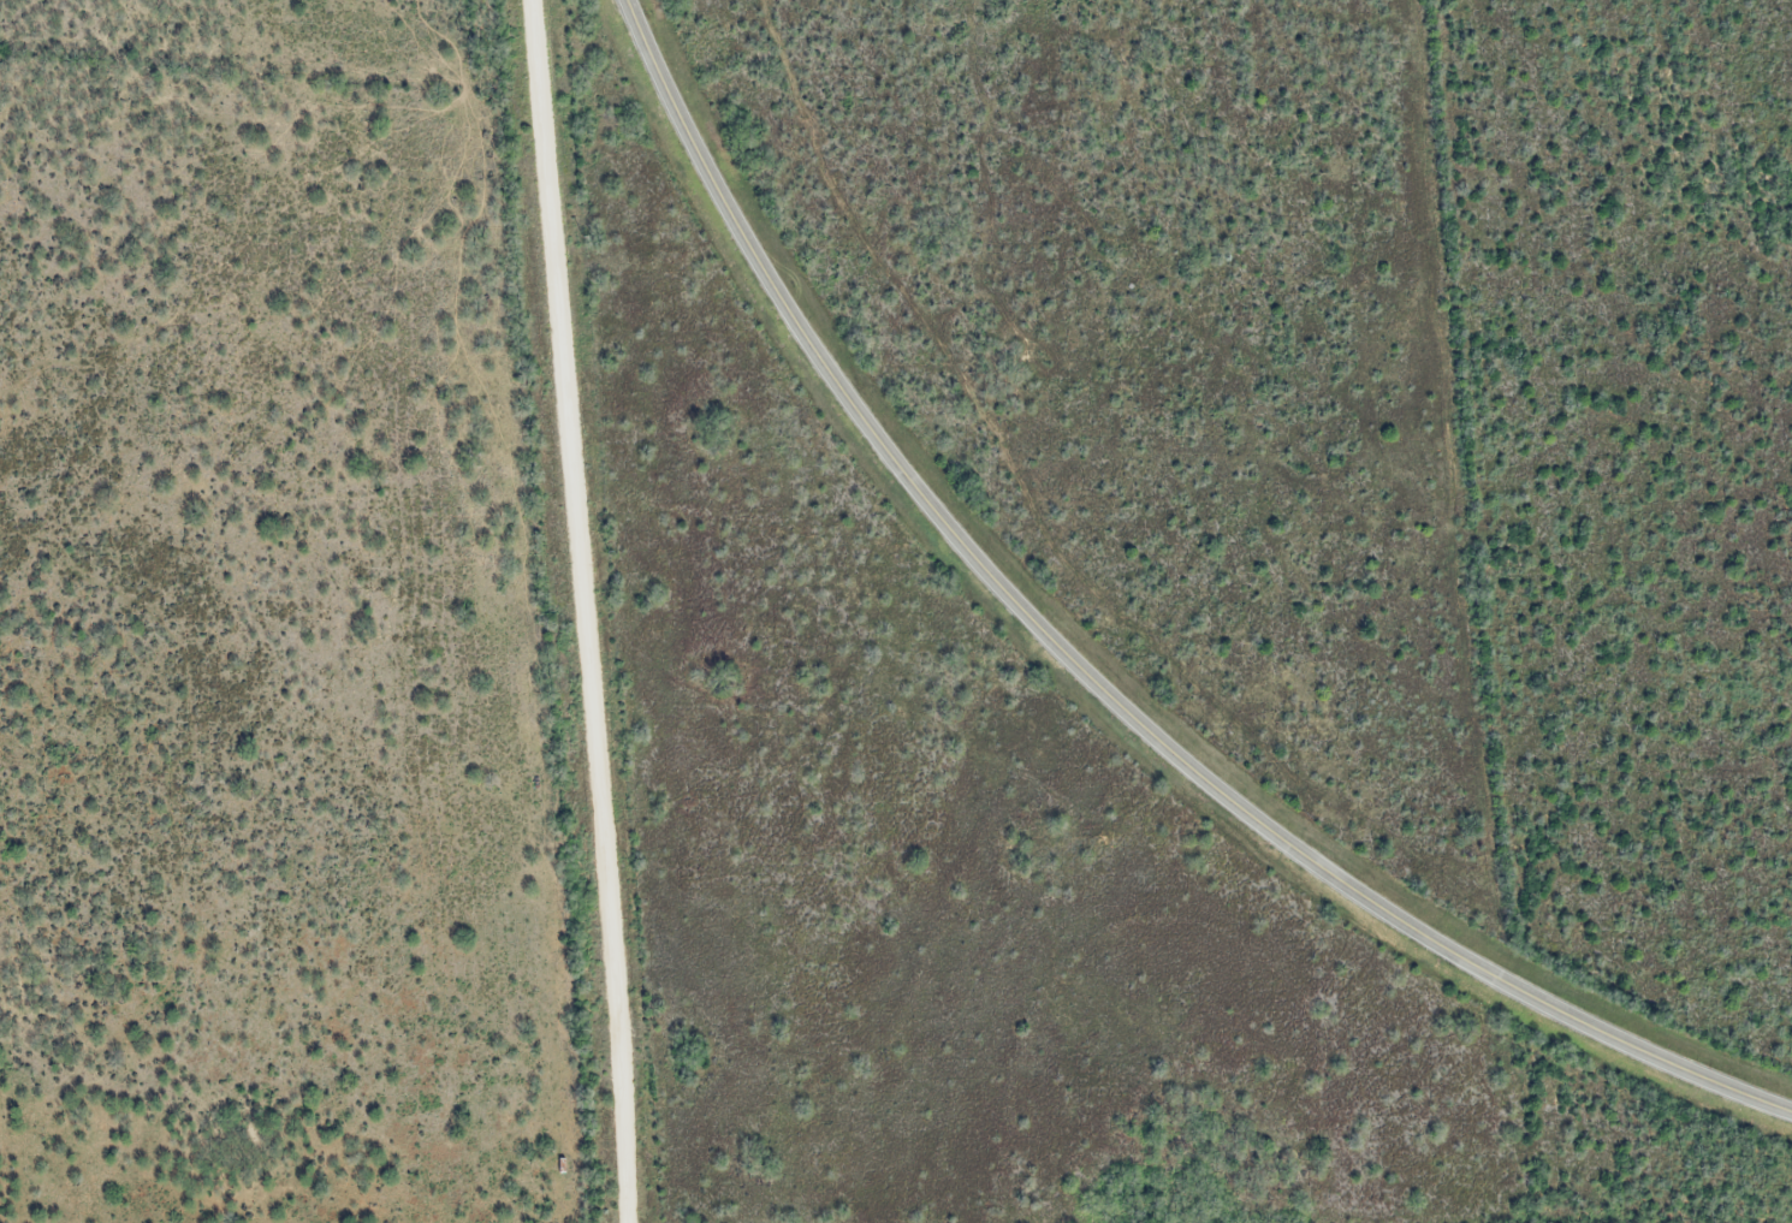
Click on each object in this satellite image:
road: (582, 611)
road: (1092, 677)

